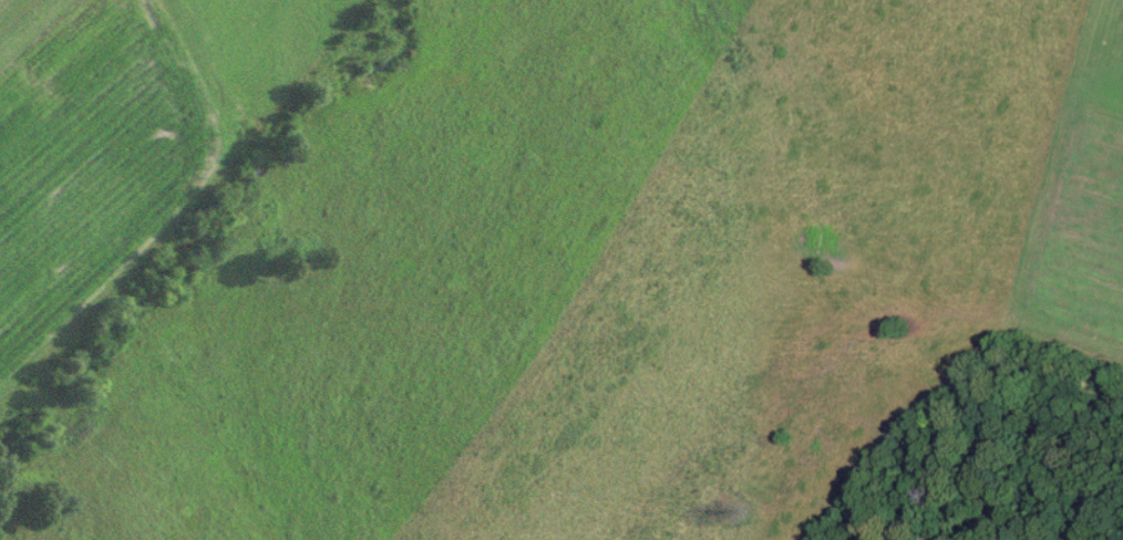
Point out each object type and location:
road: (942, 388)

